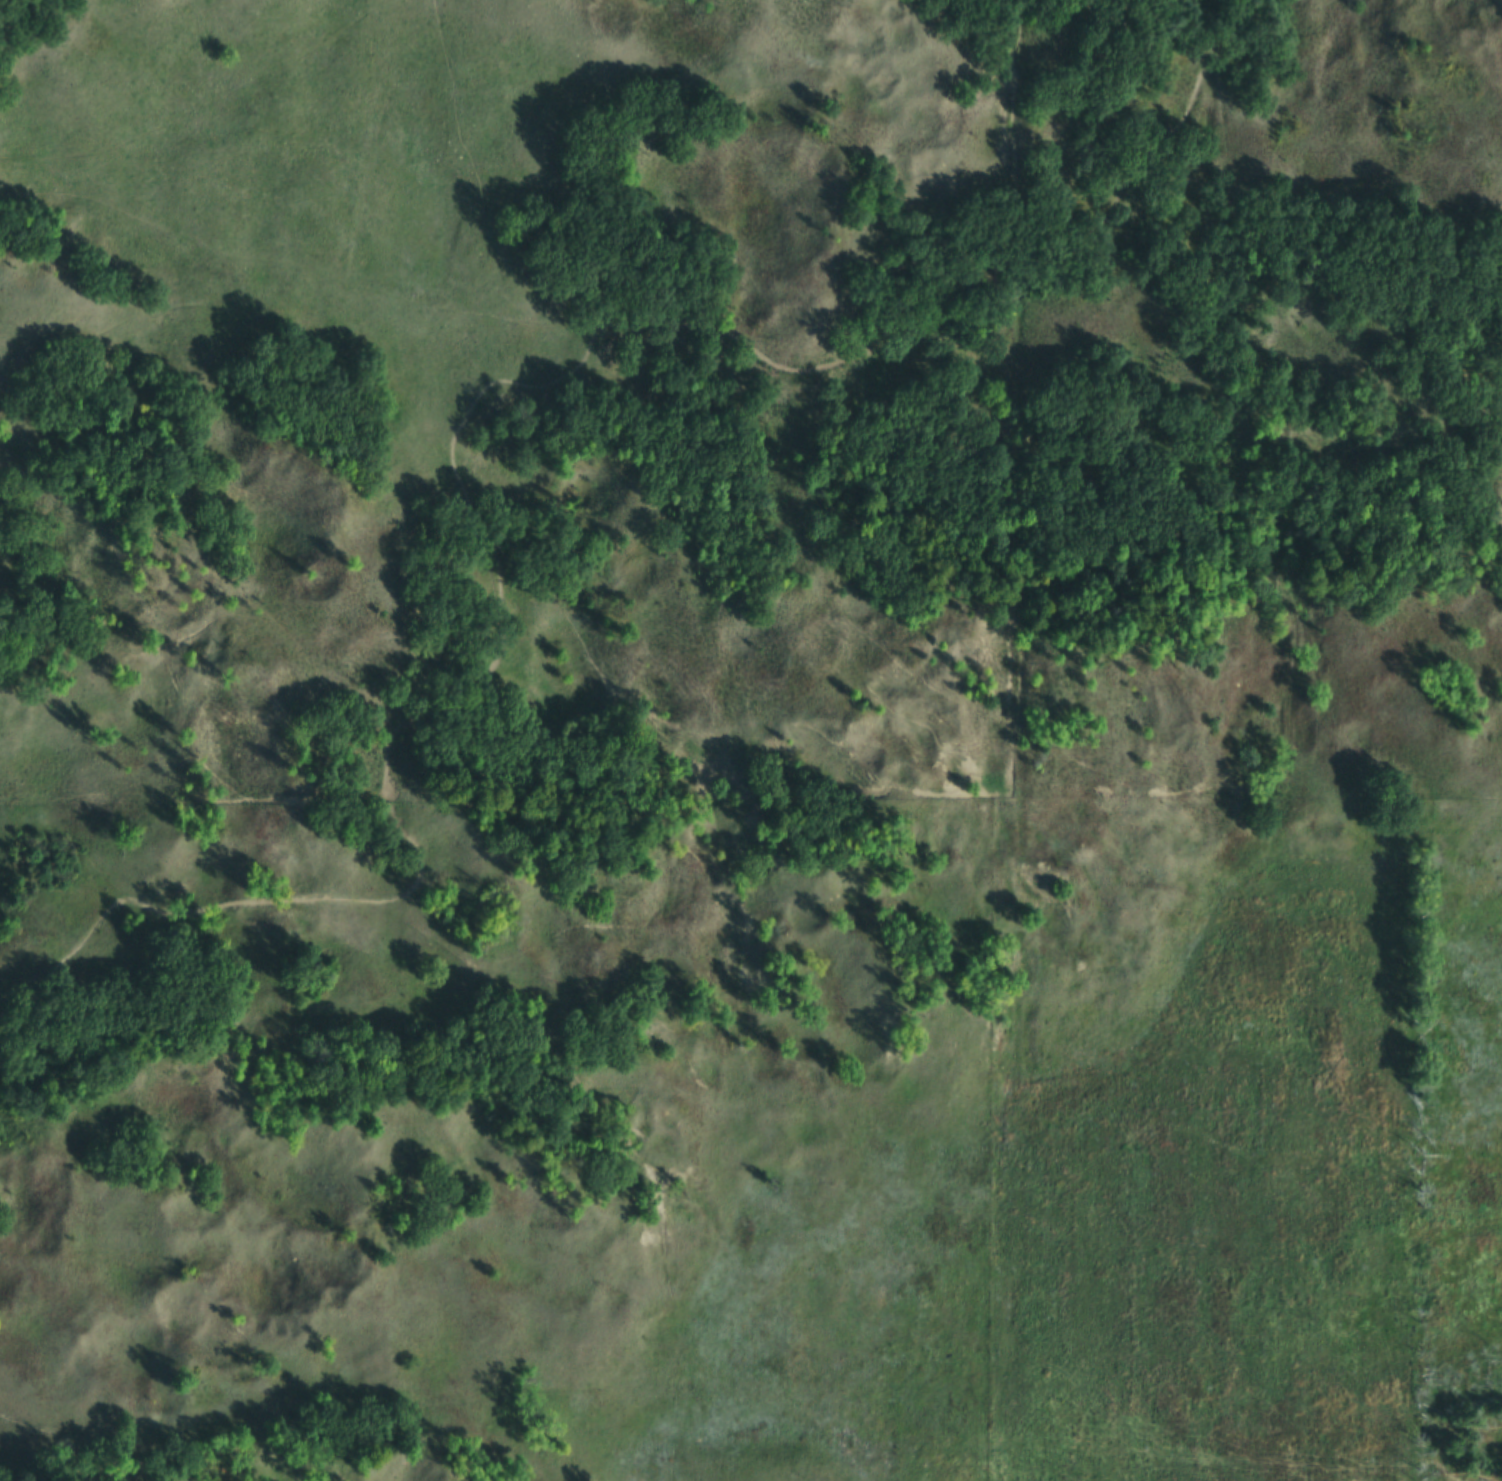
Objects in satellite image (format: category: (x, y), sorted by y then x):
road: (453, 429)

